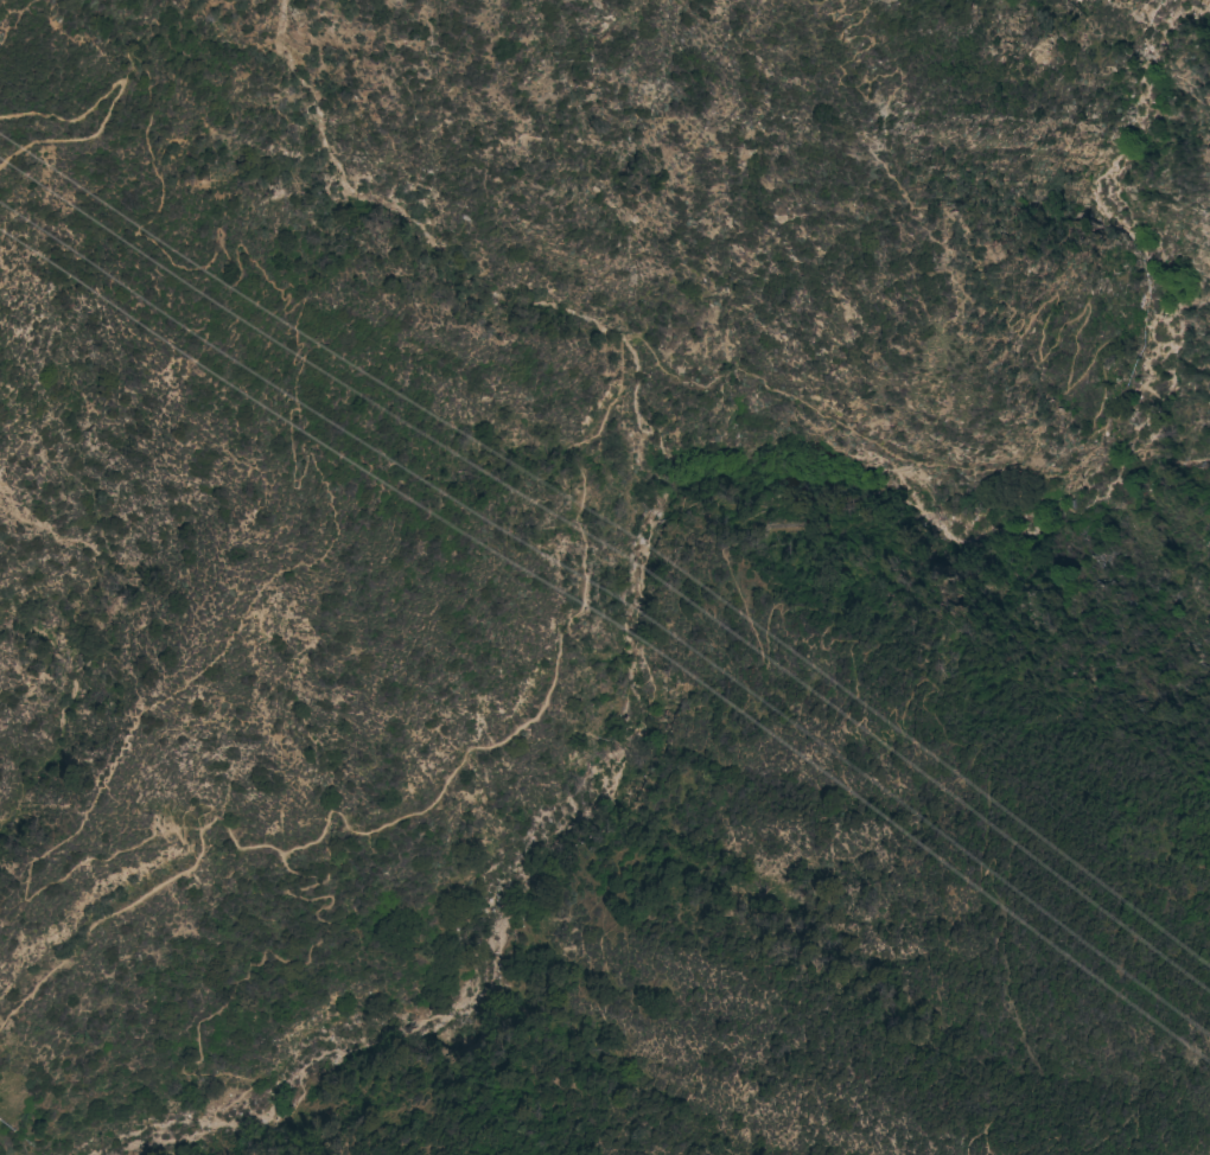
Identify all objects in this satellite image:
road: (116, 98)
road: (1005, 275)
road: (609, 408)
road: (938, 531)
road: (289, 566)
road: (859, 733)
road: (515, 893)
road: (276, 952)
road: (233, 987)
road: (1114, 1127)
road: (1037, 1141)
road: (1199, 1147)
road: (980, 1151)

